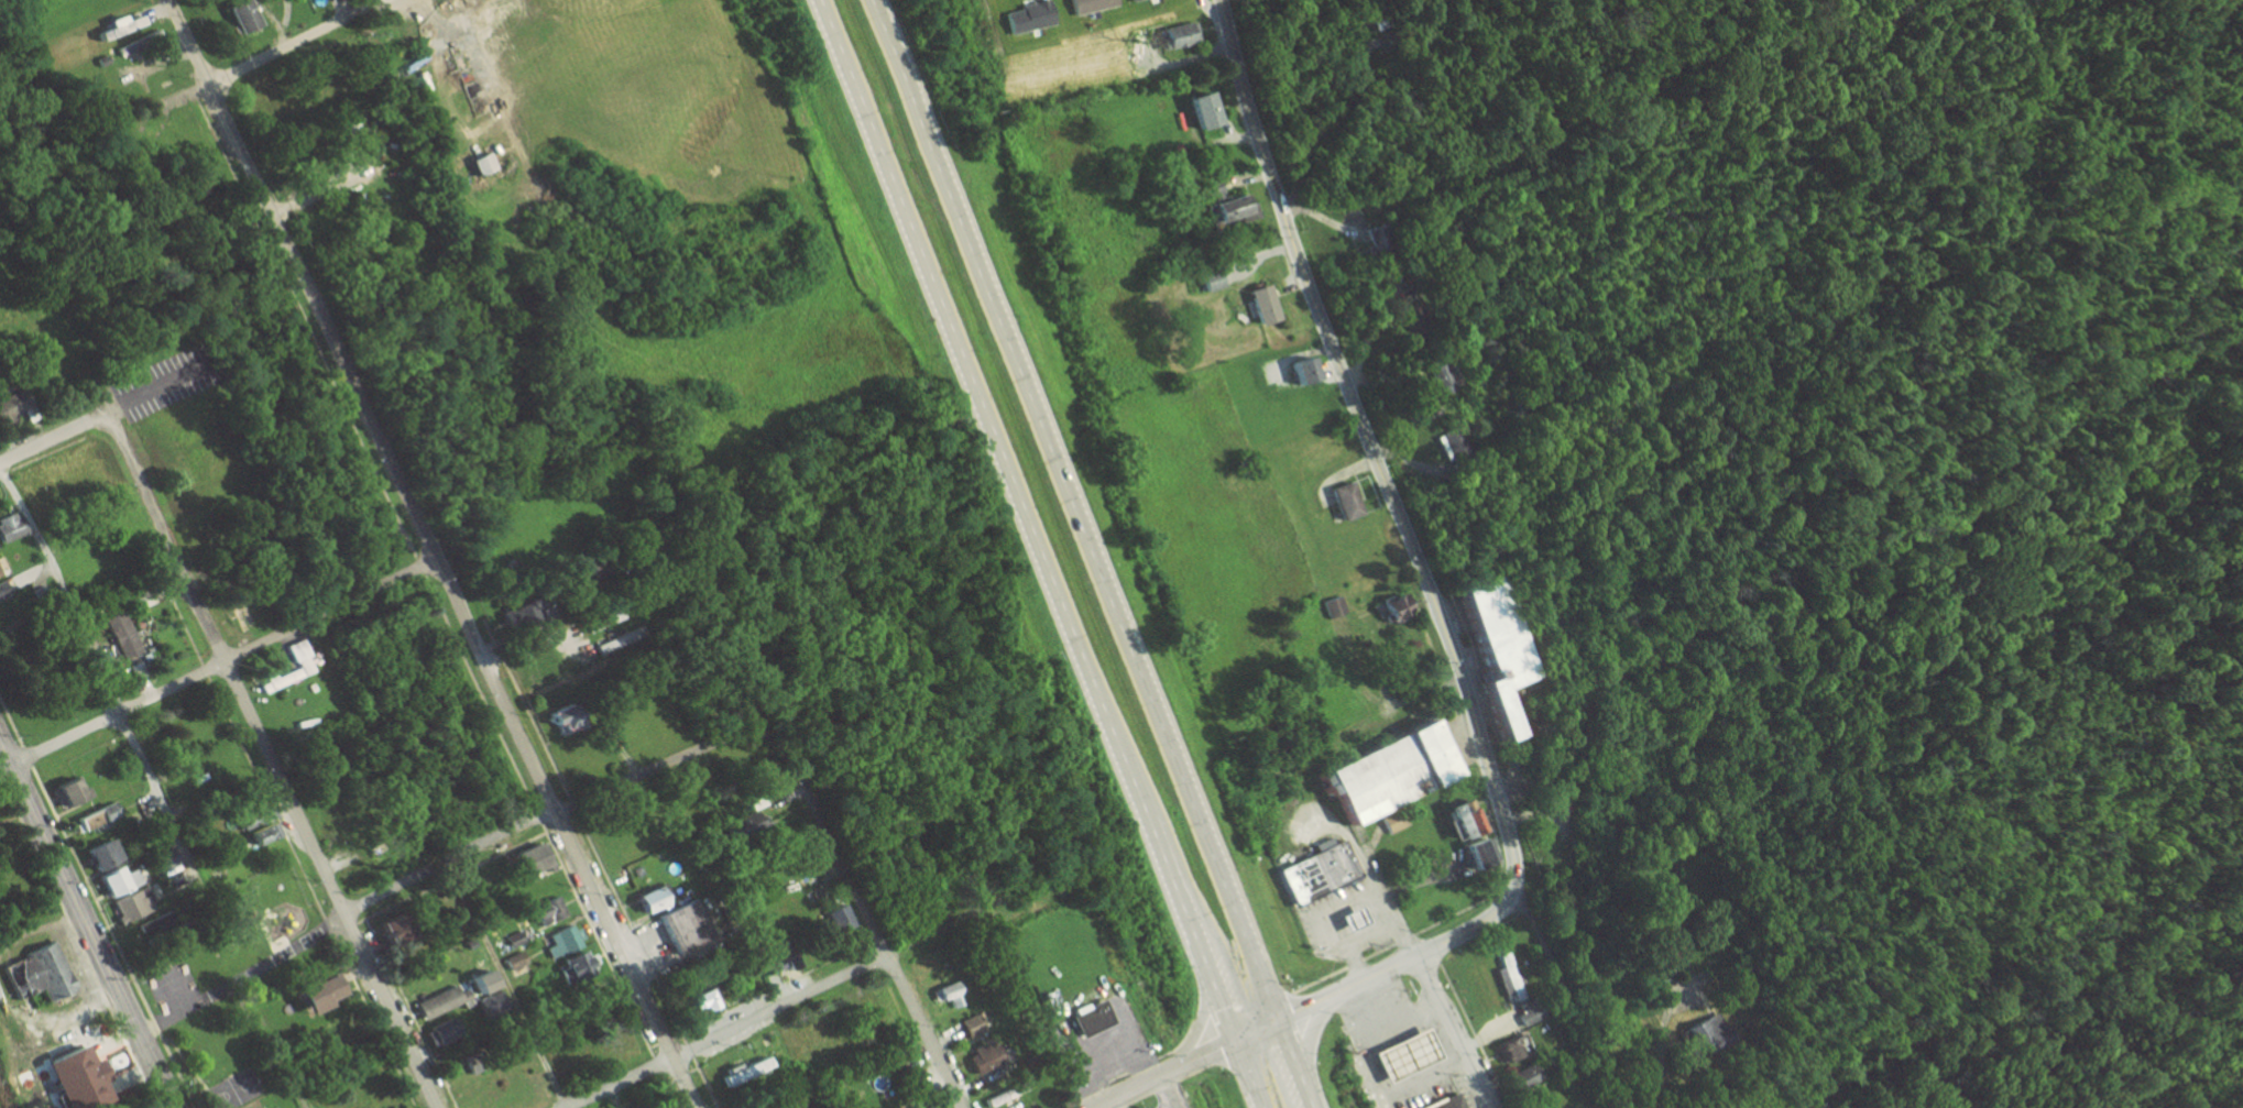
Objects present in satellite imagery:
building: (237, 15)
building: (116, 24)
building: (1174, 35)
building: (124, 48)
road: (255, 62)
building: (1200, 110)
road: (1327, 124)
building: (478, 164)
building: (1224, 205)
building: (1208, 281)
road: (984, 294)
building: (1261, 305)
road: (303, 325)
building: (1300, 371)
building: (1446, 379)
park: (158, 382)
building: (10, 406)
road: (978, 409)
road: (99, 424)
building: (1453, 440)
road: (42, 442)
road: (0, 445)
road: (1372, 446)
road: (33, 460)
building: (1344, 502)
building: (7, 526)
road: (430, 553)
building: (142, 600)
building: (1391, 606)
building: (1333, 607)
building: (510, 614)
building: (601, 622)
building: (118, 635)
building: (606, 645)
building: (1497, 646)
road: (89, 655)
building: (298, 658)
road: (222, 662)
road: (227, 671)
building: (275, 681)
road: (472, 681)
building: (558, 722)
road: (10, 723)
road: (247, 755)
building: (1388, 776)
building: (65, 791)
road: (1192, 803)
building: (254, 810)
building: (105, 811)
road: (537, 814)
road: (544, 814)
building: (1458, 820)
building: (88, 822)
building: (1393, 822)
building: (740, 823)
road: (580, 831)
building: (256, 834)
building: (1475, 853)
building: (96, 854)
building: (526, 859)
building: (165, 863)
building: (1316, 875)
road: (450, 876)
road: (85, 879)
building: (113, 881)
road: (69, 888)
building: (648, 899)
building: (130, 904)
building: (546, 911)
road: (864, 911)
building: (835, 919)
building: (1350, 922)
gas station: (1350, 922)
road: (327, 923)
building: (679, 926)
road: (343, 928)
road: (1190, 930)
building: (384, 933)
road: (597, 939)
building: (512, 940)
building: (1671, 940)
building: (560, 941)
road: (76, 944)
building: (777, 956)
building: (512, 962)
building: (573, 966)
road: (1426, 972)
building: (39, 973)
road: (1379, 974)
building: (1510, 977)
building: (477, 983)
road: (504, 984)
building: (309, 994)
building: (947, 995)
road: (1574, 998)
building: (696, 1001)
building: (437, 1002)
road: (743, 1002)
building: (489, 1006)
road: (387, 1012)
road: (411, 1012)
road: (1398, 1017)
building: (1090, 1019)
road: (373, 1020)
traffic signals: (1280, 1021)
building: (969, 1027)
road: (730, 1032)
building: (437, 1033)
building: (1711, 1033)
road: (660, 1041)
traffic signals: (1235, 1042)
road: (1662, 1042)
road: (688, 1049)
road: (1363, 1049)
building: (1511, 1049)
building: (1402, 1054)
gas station: (1402, 1054)
road: (277, 1060)
building: (981, 1060)
road: (171, 1062)
road: (656, 1063)
road: (1295, 1064)
road: (1126, 1071)
road: (155, 1072)
building: (740, 1073)
road: (1166, 1075)
road: (1247, 1075)
road: (1424, 1077)
building: (1527, 1077)
building: (70, 1079)
road: (703, 1082)
road: (669, 1089)
road: (1169, 1093)
building: (1003, 1096)
building: (1443, 1102)
road: (1107, 1106)
building: (924, 1107)

